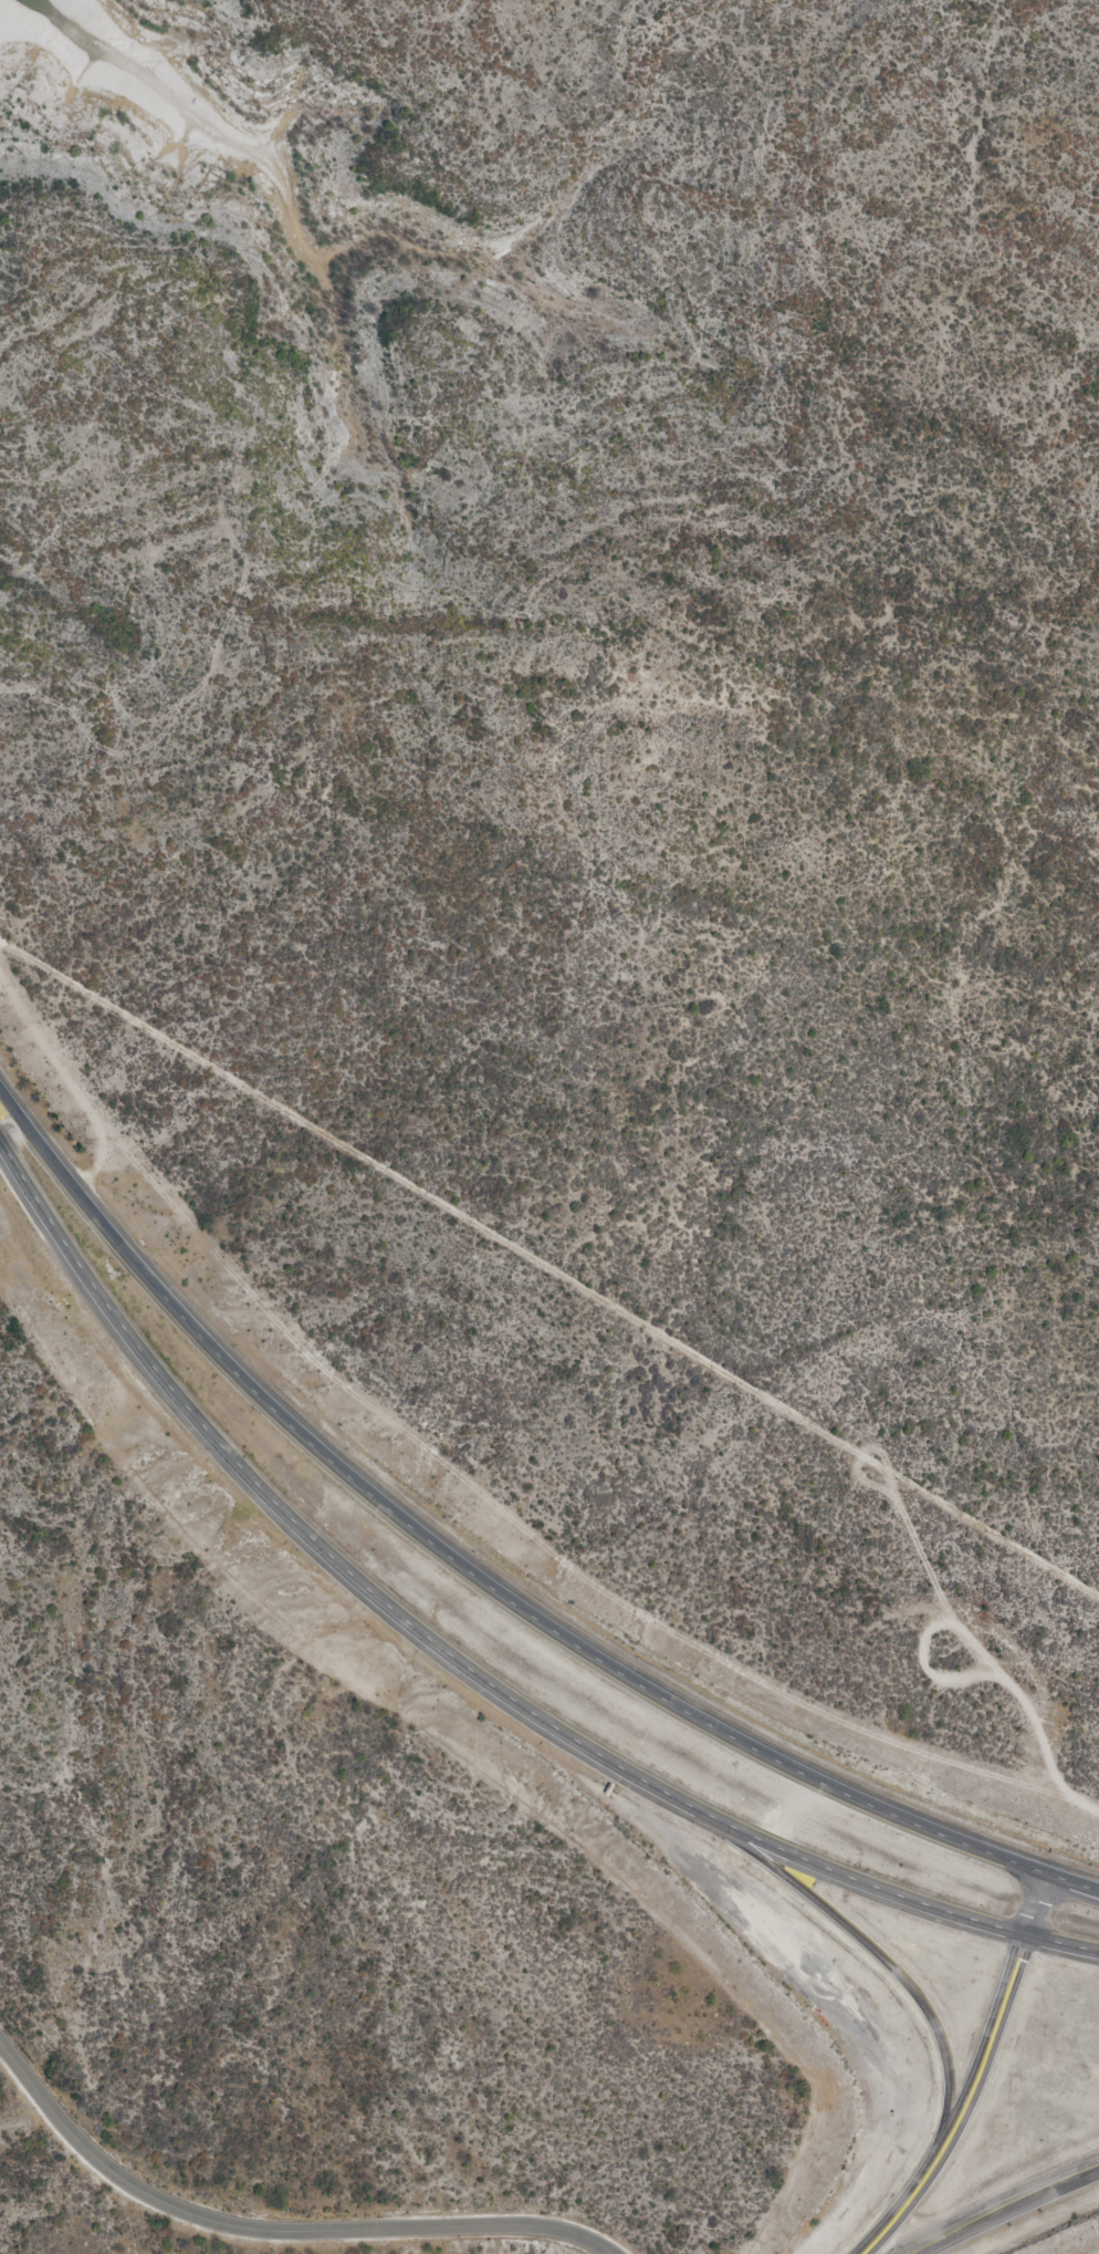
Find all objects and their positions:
road: (3, 1129)
road: (75, 1176)
road: (583, 1645)
road: (465, 1660)
road: (882, 1949)
road: (980, 2077)
road: (1016, 2213)
road: (273, 2232)

